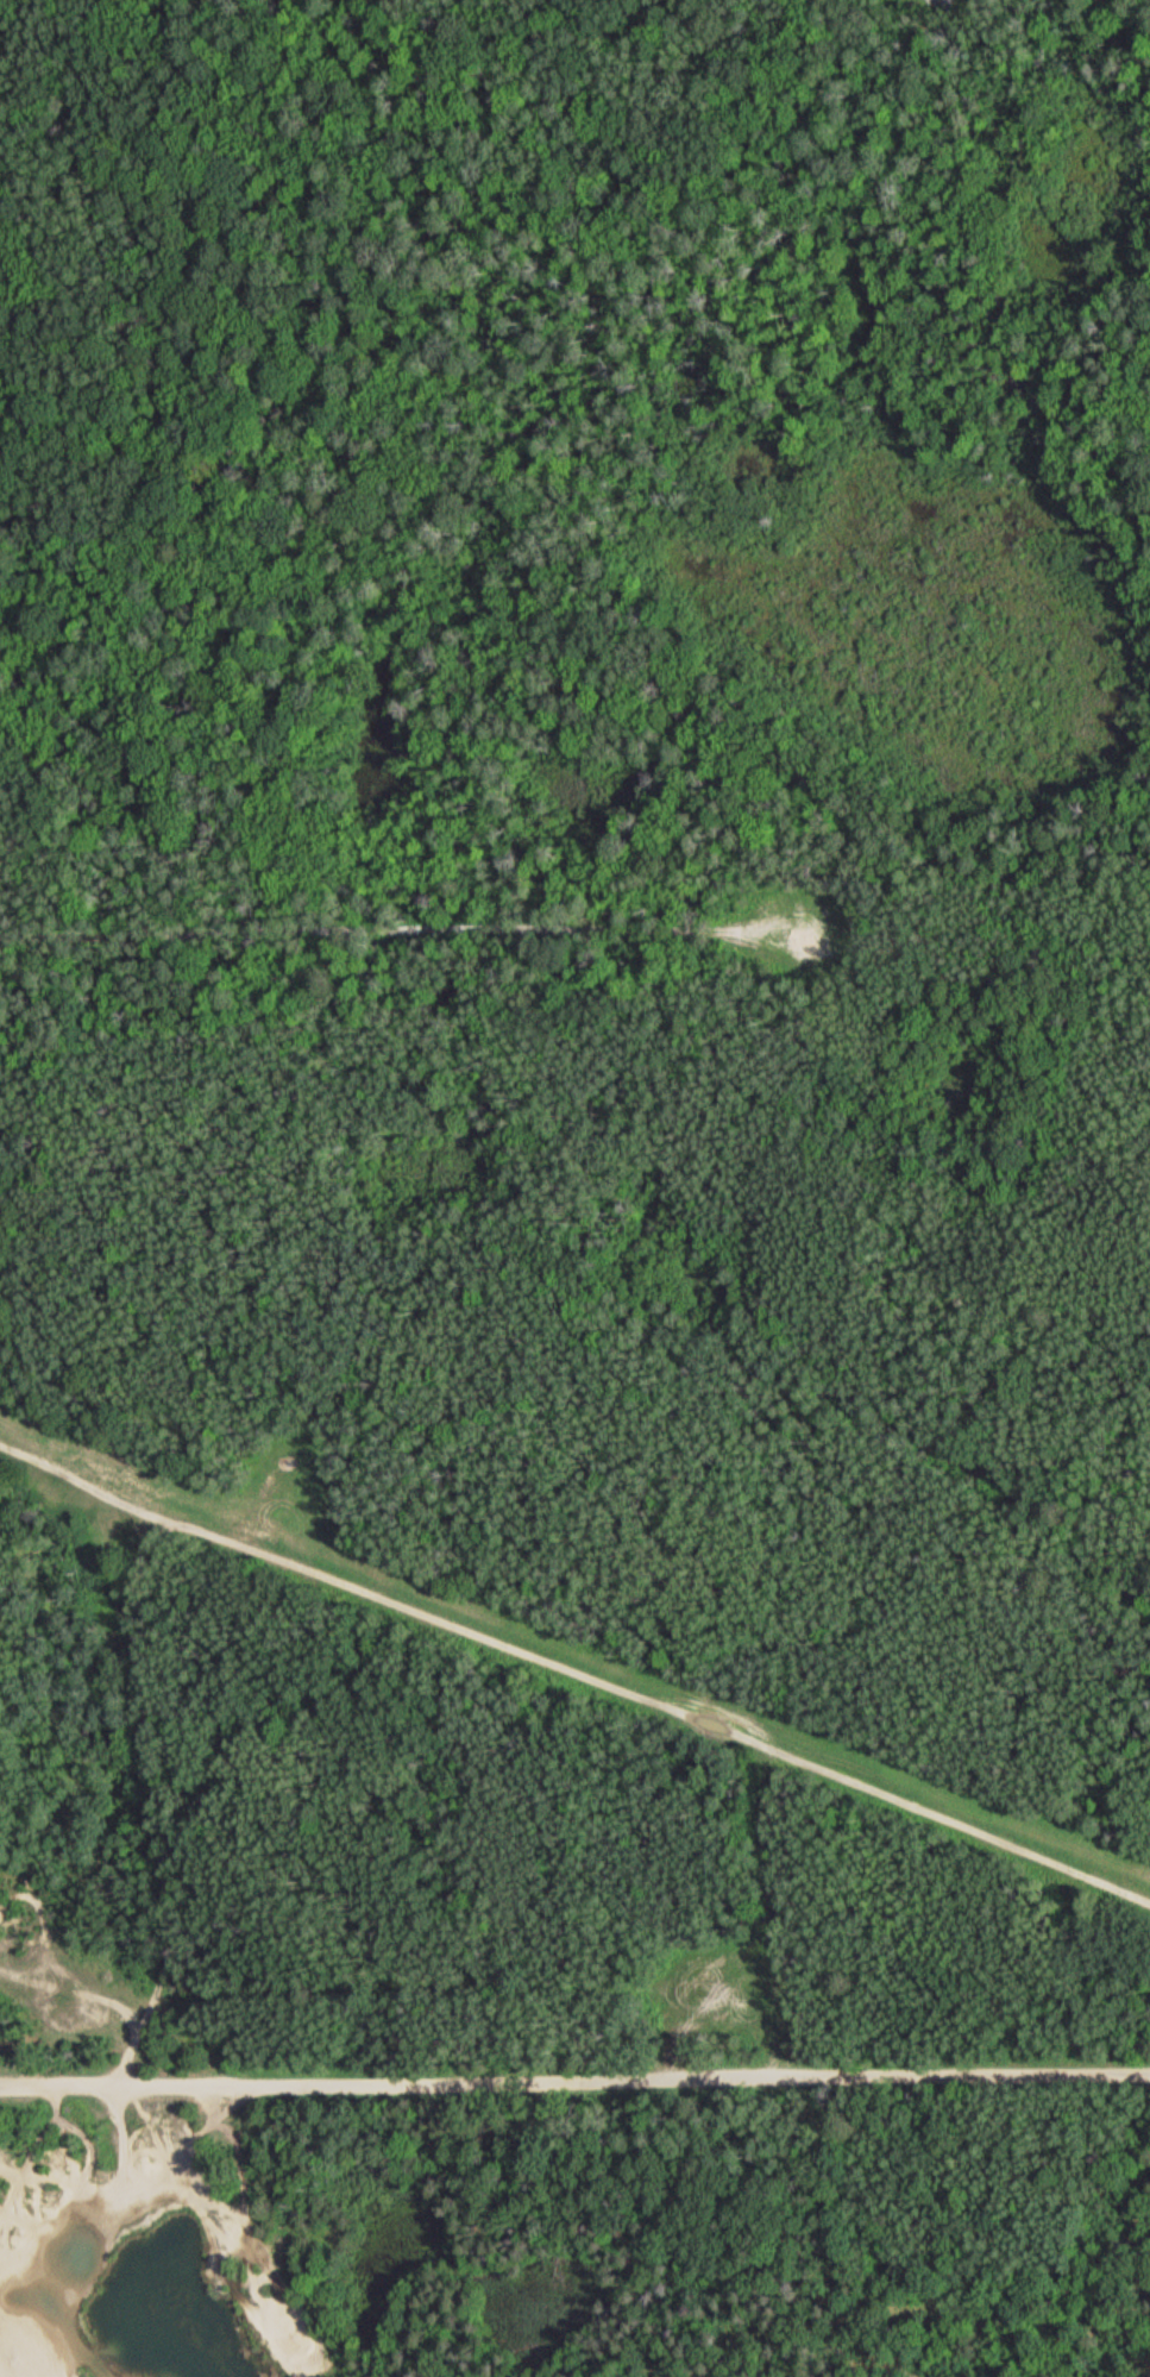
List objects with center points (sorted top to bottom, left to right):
road: (574, 1672)
road: (155, 1804)
road: (574, 2076)

